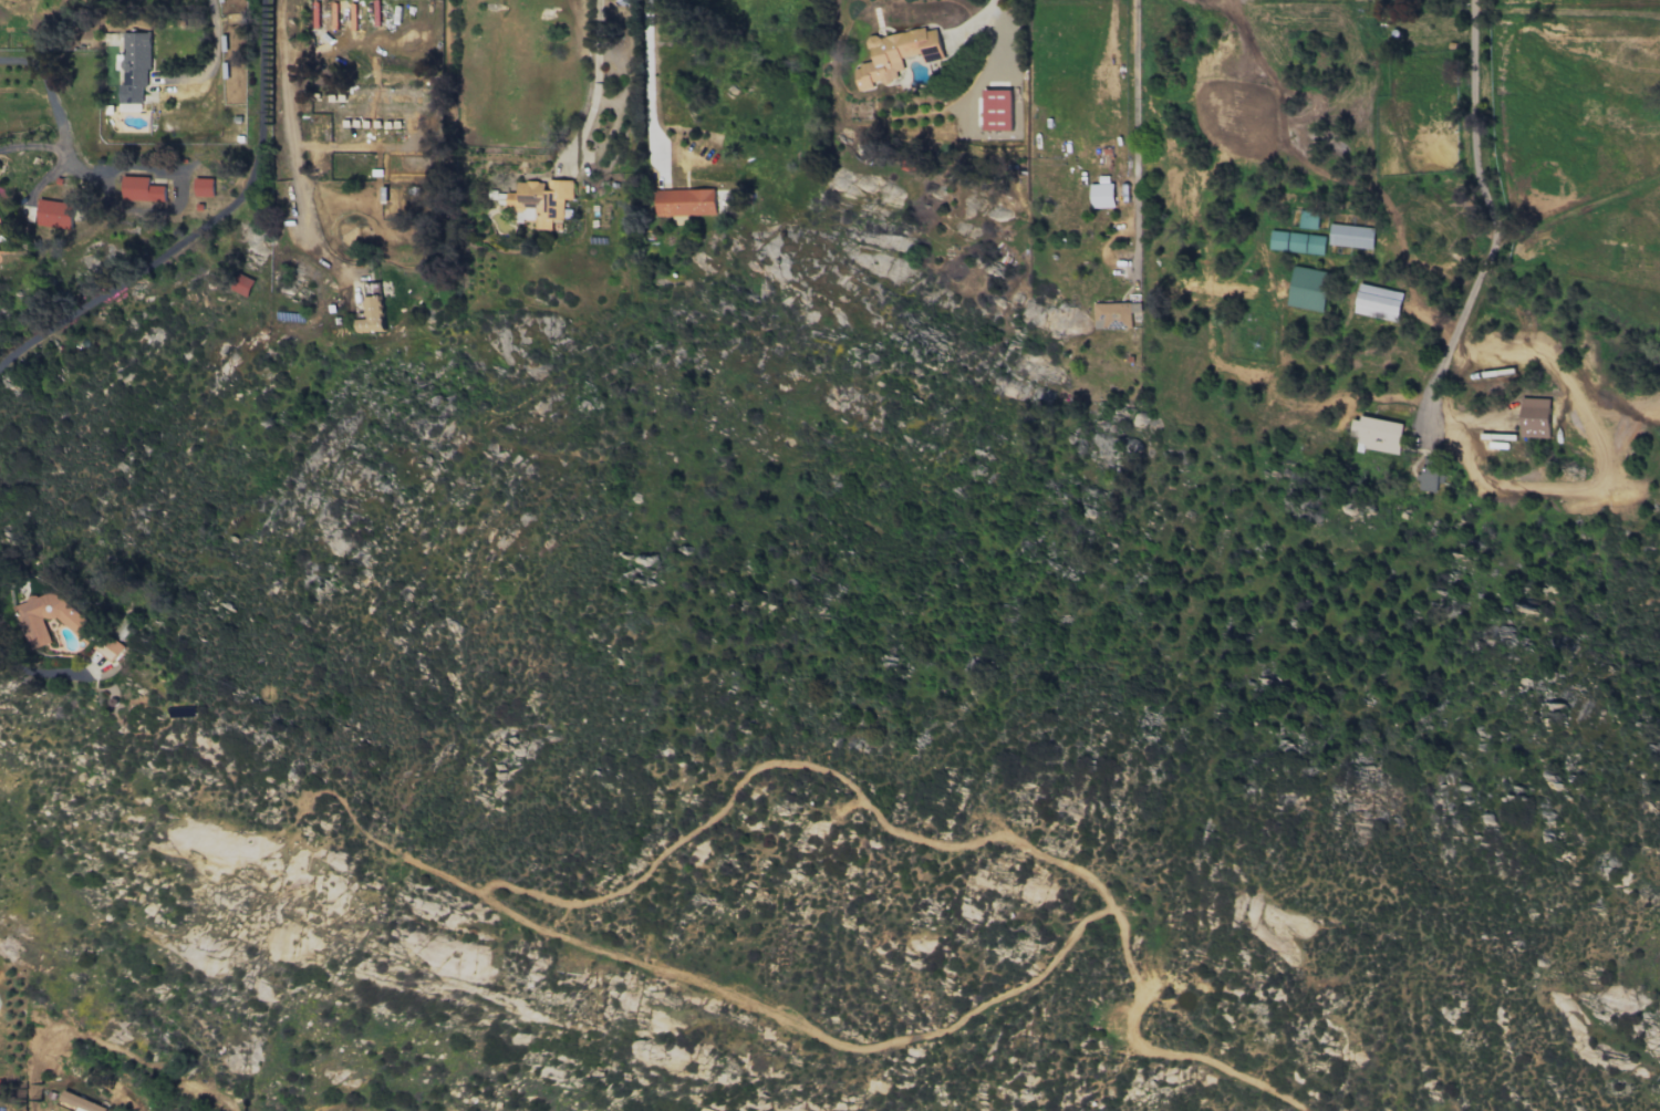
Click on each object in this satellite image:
road: (973, 23)
road: (1109, 34)
road: (210, 51)
building: (894, 54)
building: (134, 65)
road: (258, 74)
road: (593, 76)
road: (649, 76)
road: (1134, 96)
building: (996, 110)
road: (290, 127)
building: (204, 186)
building: (141, 188)
building: (1101, 193)
building: (541, 200)
building: (684, 203)
building: (54, 214)
road: (1488, 218)
building: (1307, 219)
building: (1350, 236)
road: (1134, 240)
building: (1296, 241)
road: (145, 267)
building: (245, 284)
building: (1307, 288)
building: (1377, 302)
building: (1113, 314)
building: (371, 315)
building: (1534, 417)
building: (1376, 434)
building: (1429, 478)
building: (48, 617)
building: (114, 638)
road: (41, 673)
road: (129, 1099)
building: (81, 1102)

